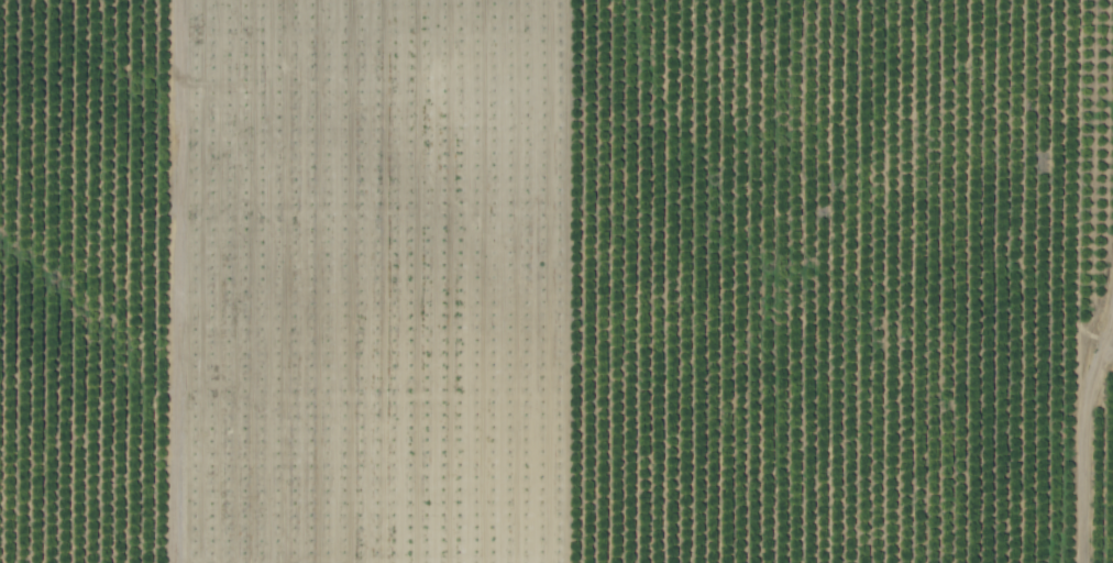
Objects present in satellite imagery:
road: (890, 320)
road: (1090, 474)

